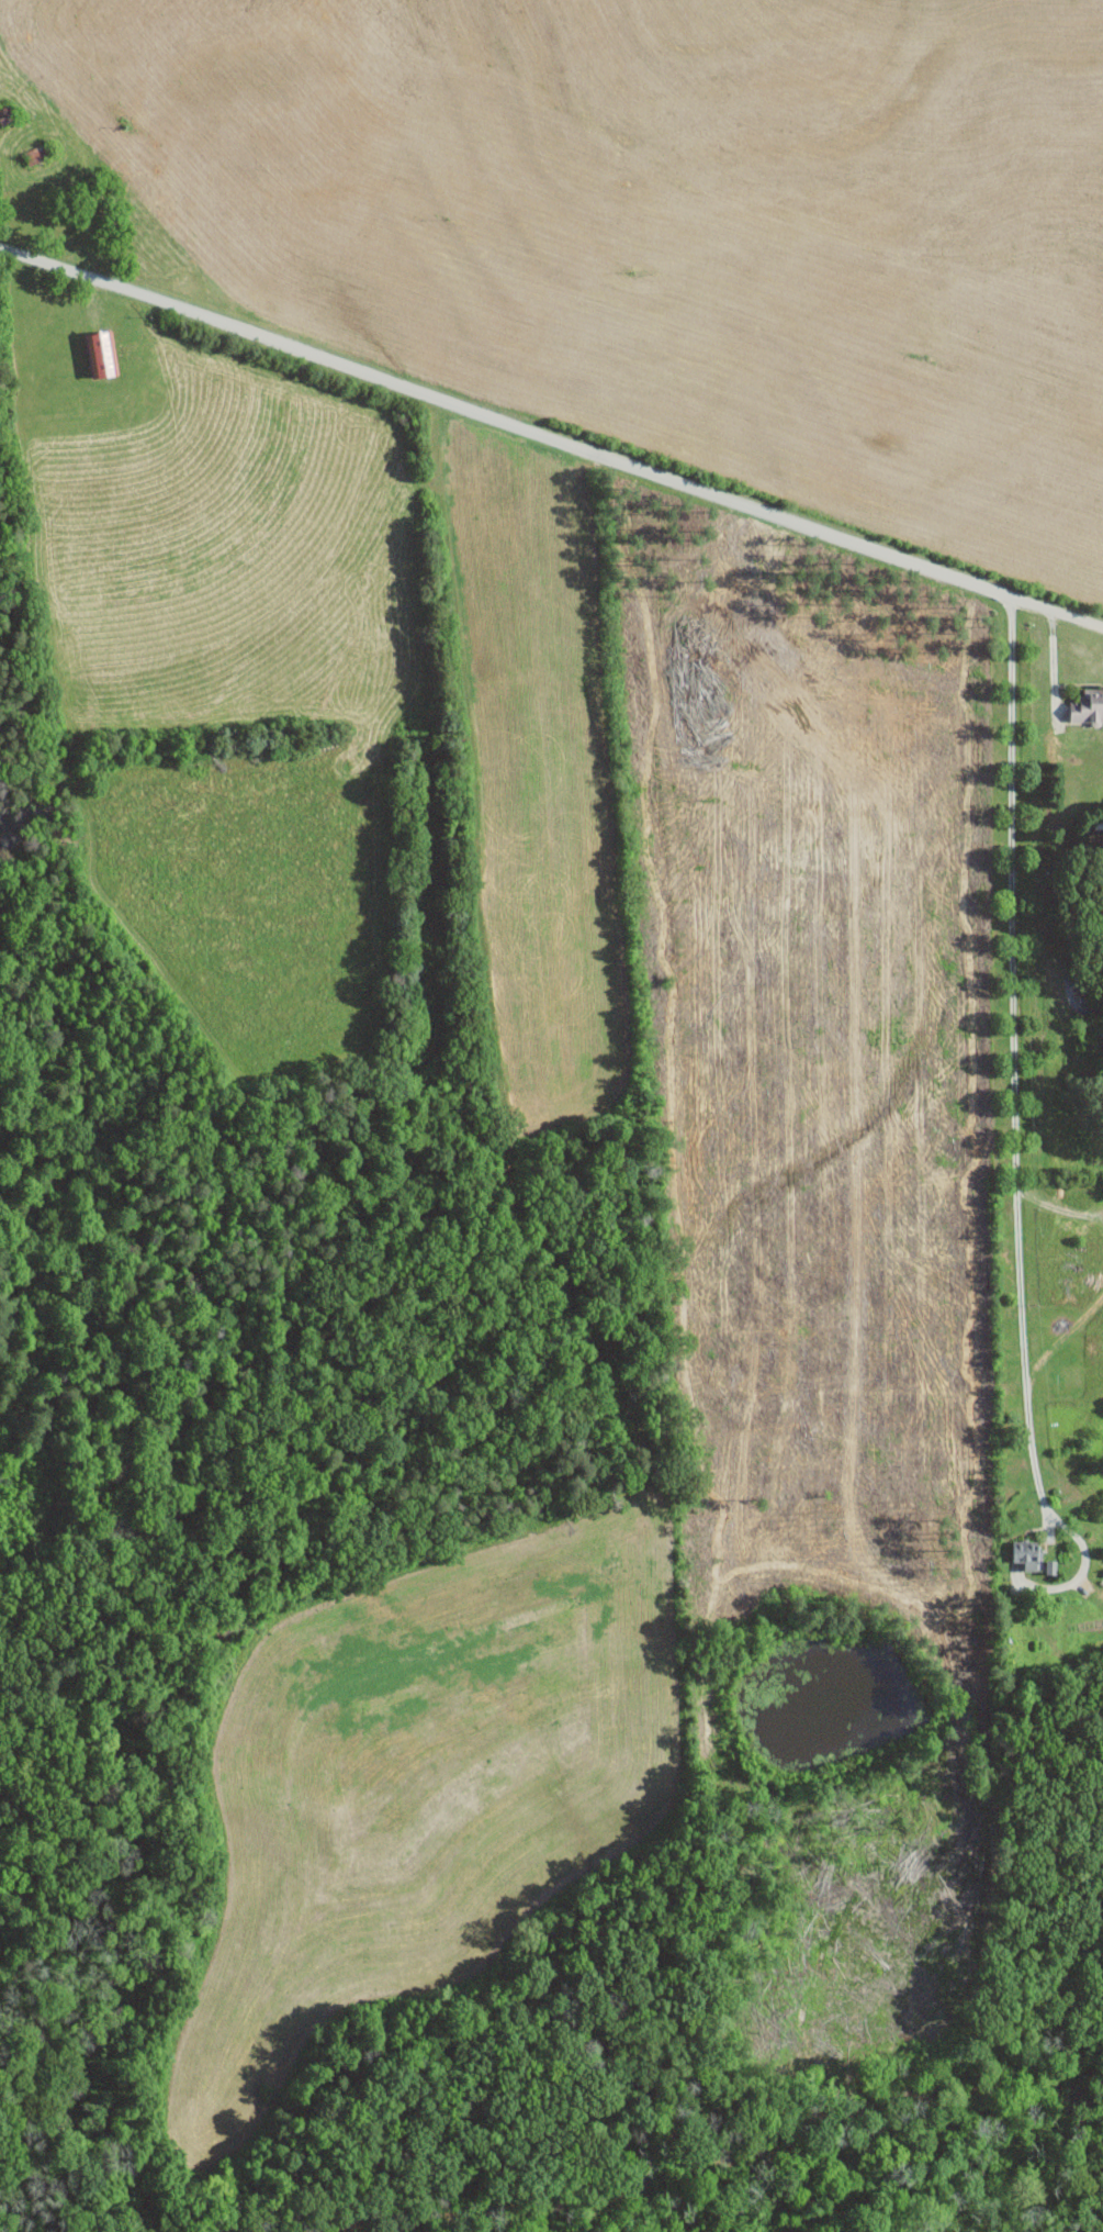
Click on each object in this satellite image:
building: (100, 353)
road: (551, 440)
road: (1055, 666)
building: (1088, 707)
road: (1066, 852)
road: (1013, 1129)
building: (1026, 1554)

